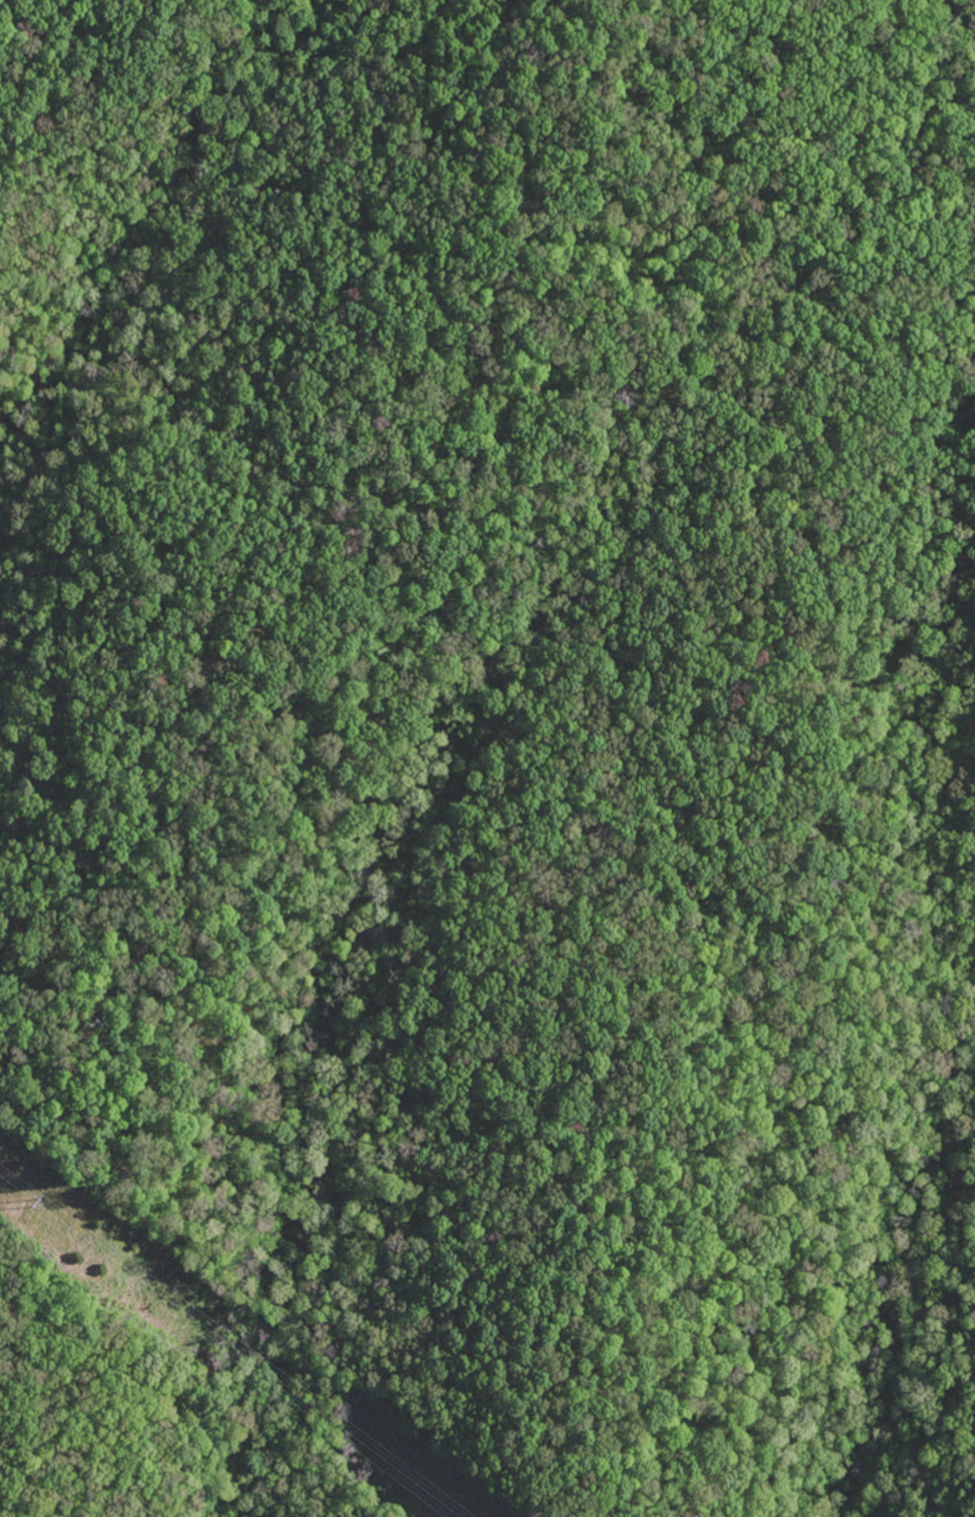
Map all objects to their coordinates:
power tower: (32, 1203)

